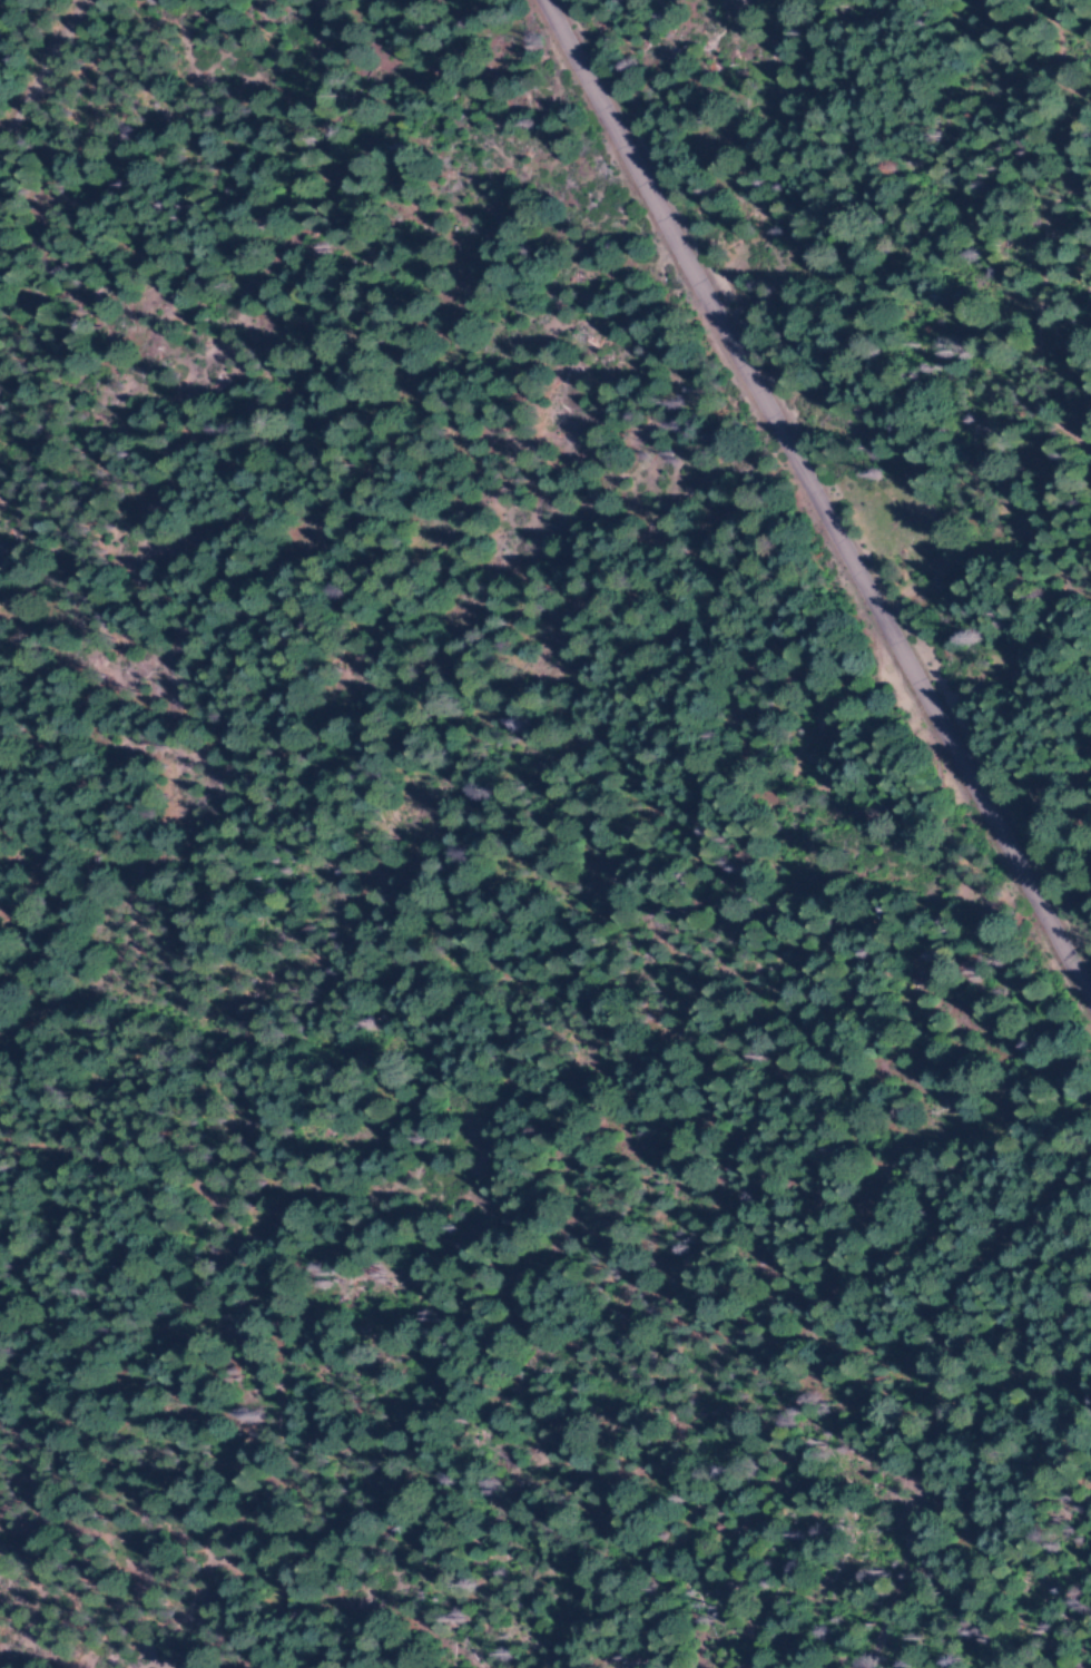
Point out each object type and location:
road: (42, 72)
road: (818, 499)

